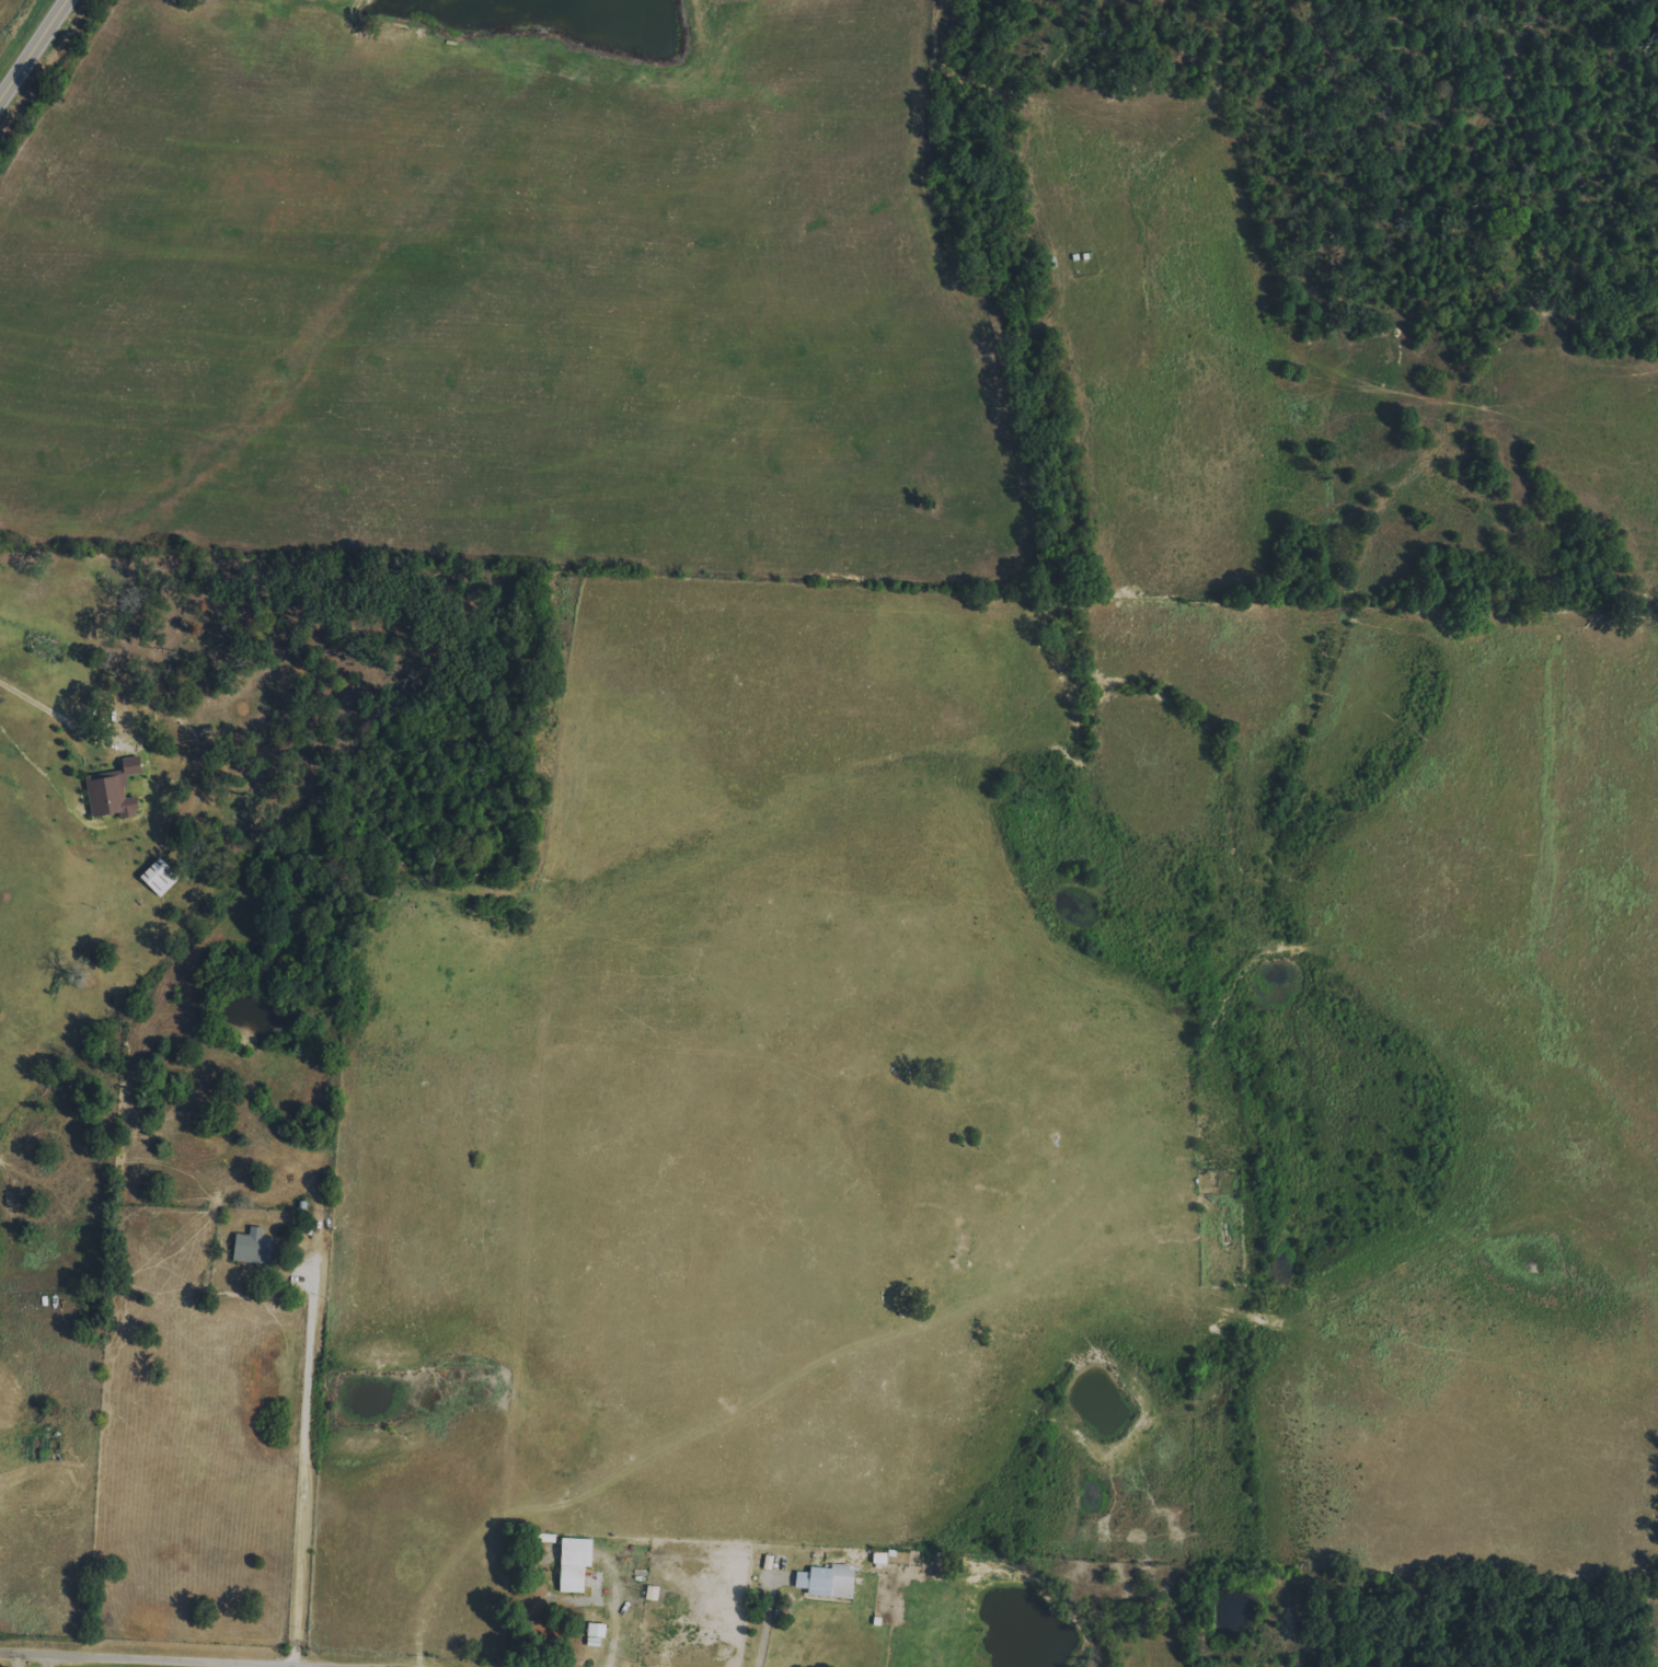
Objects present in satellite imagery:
road: (33, 50)
road: (37, 705)
building: (113, 794)
building: (160, 876)
building: (253, 1247)
road: (303, 1465)
building: (575, 1563)
building: (828, 1581)
road: (772, 1623)
road: (159, 1660)
road: (46, 1662)

